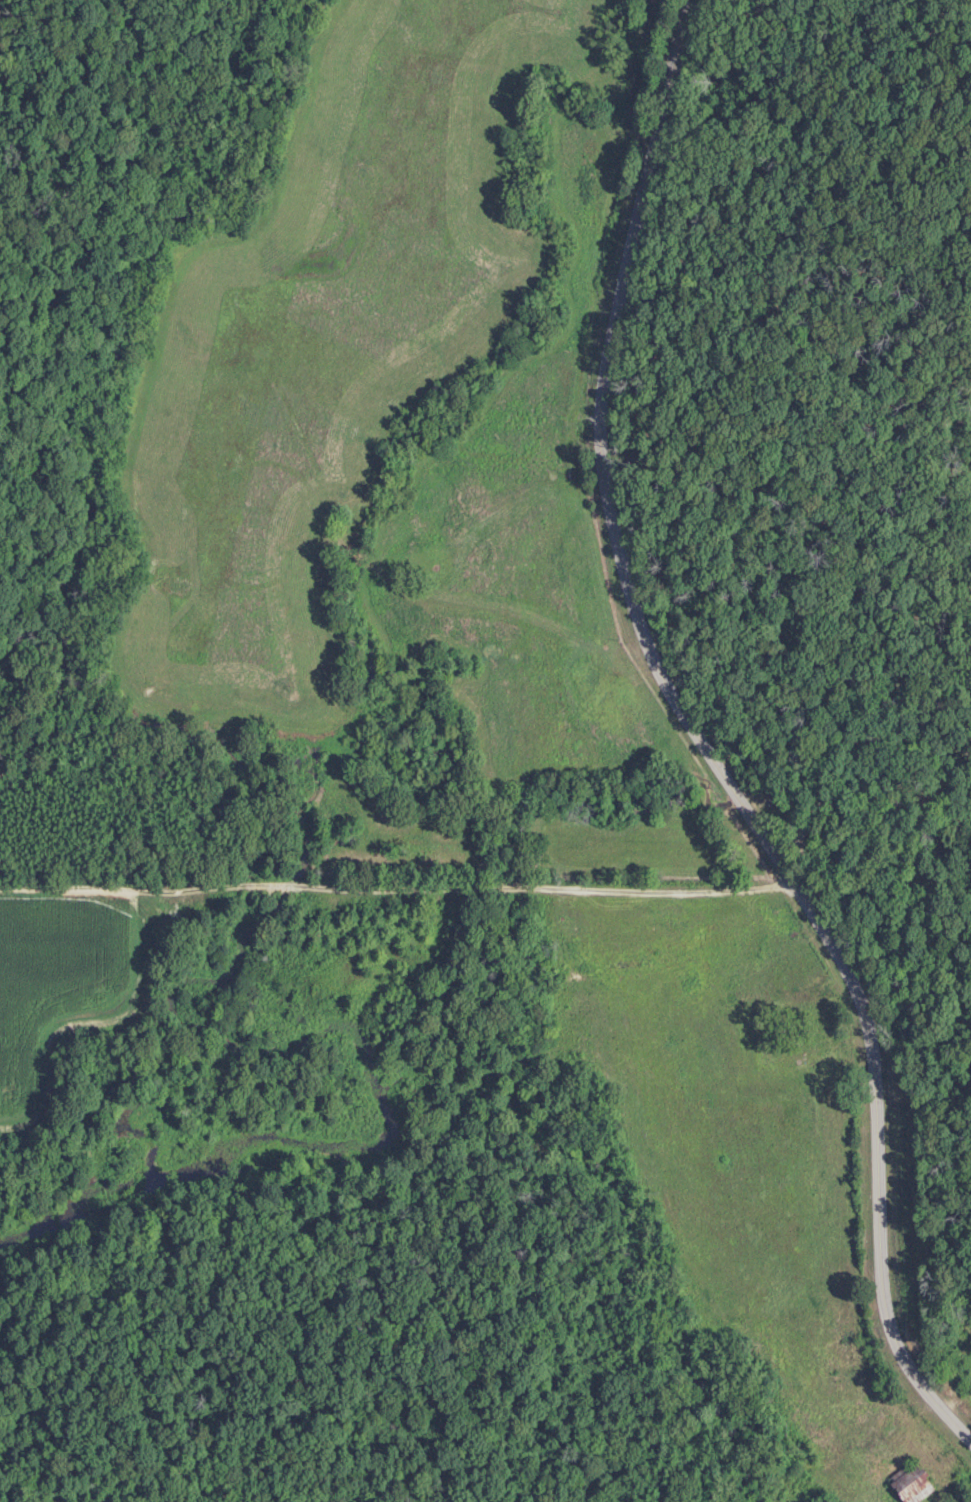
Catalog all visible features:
road: (703, 744)
building: (910, 1485)

